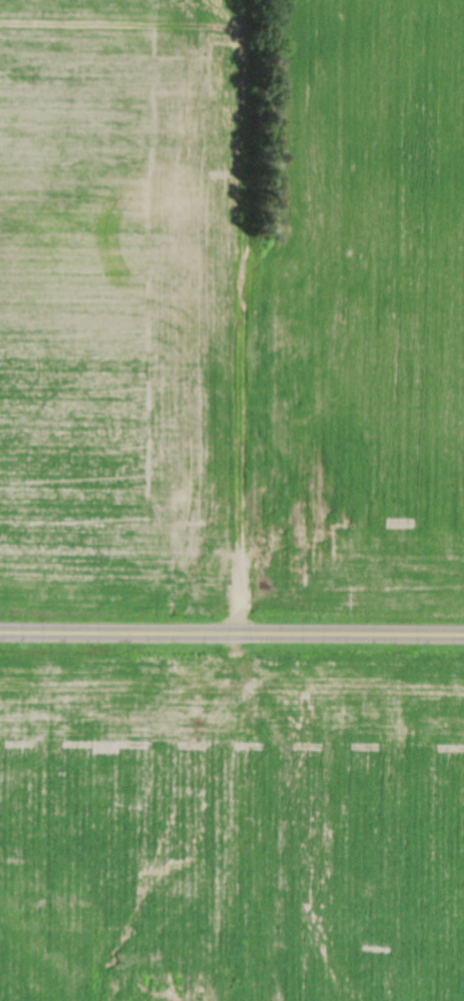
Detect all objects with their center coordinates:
road: (231, 631)

